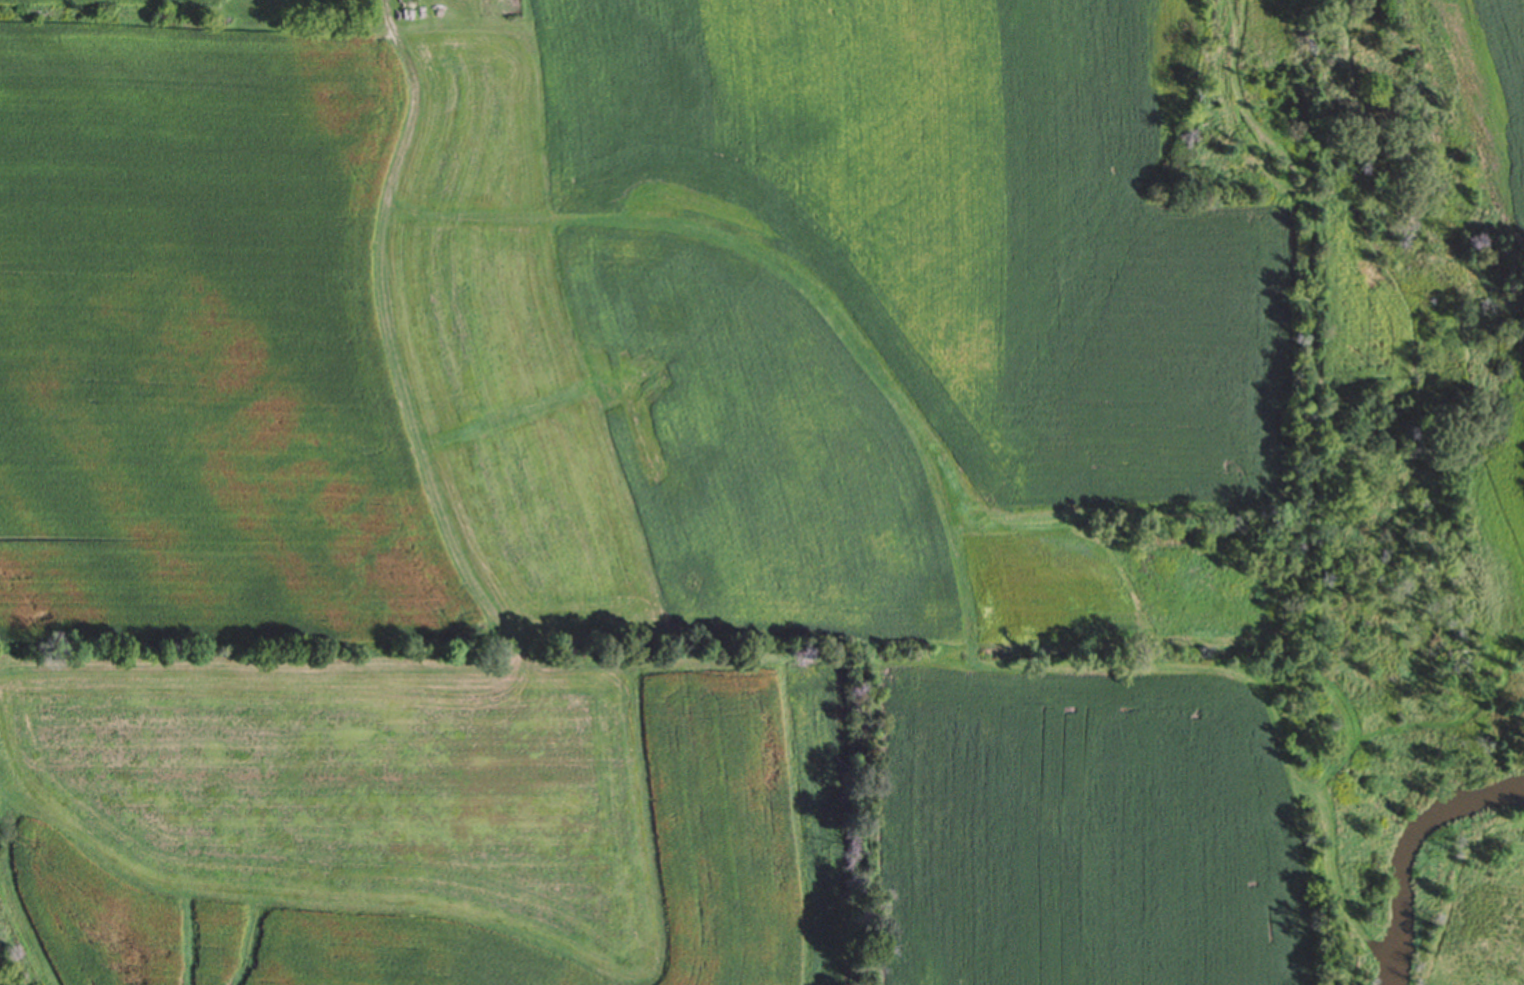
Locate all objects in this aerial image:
river: (1415, 854)

